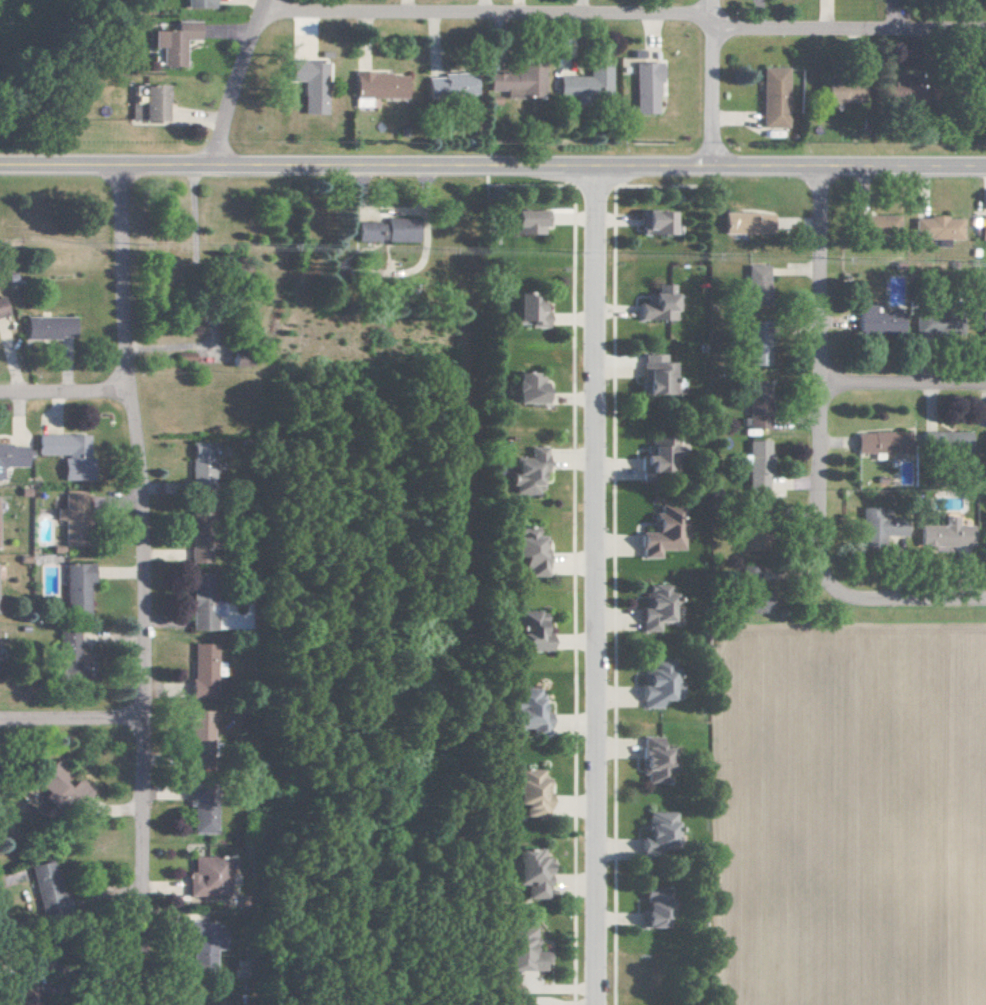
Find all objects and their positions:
building: (193, 4)
road: (484, 11)
road: (846, 29)
building: (168, 42)
building: (630, 58)
building: (515, 80)
road: (235, 81)
road: (708, 81)
building: (583, 83)
building: (305, 84)
building: (446, 85)
building: (373, 87)
building: (643, 88)
building: (841, 93)
building: (771, 97)
building: (144, 104)
road: (493, 166)
building: (526, 221)
building: (654, 222)
building: (746, 222)
building: (877, 223)
building: (936, 227)
building: (982, 227)
building: (384, 230)
building: (755, 281)
building: (657, 304)
building: (528, 311)
building: (0, 313)
building: (878, 319)
building: (983, 322)
building: (937, 323)
building: (44, 327)
building: (756, 343)
building: (235, 360)
building: (655, 375)
road: (818, 375)
road: (902, 385)
building: (527, 388)
road: (64, 392)
building: (757, 404)
building: (947, 441)
building: (984, 441)
building: (881, 442)
building: (63, 453)
building: (10, 455)
building: (659, 458)
building: (196, 464)
building: (756, 465)
building: (526, 472)
building: (69, 519)
building: (662, 533)
building: (985, 535)
building: (528, 551)
road: (145, 585)
building: (71, 586)
road: (595, 586)
road: (902, 600)
building: (656, 607)
building: (196, 612)
building: (529, 630)
building: (64, 653)
building: (196, 669)
building: (656, 684)
building: (524, 710)
road: (72, 717)
building: (194, 726)
building: (654, 761)
building: (55, 788)
building: (528, 792)
building: (197, 808)
building: (658, 832)
building: (530, 872)
building: (204, 877)
building: (40, 884)
building: (656, 912)
building: (198, 946)
building: (522, 951)
building: (20, 997)

